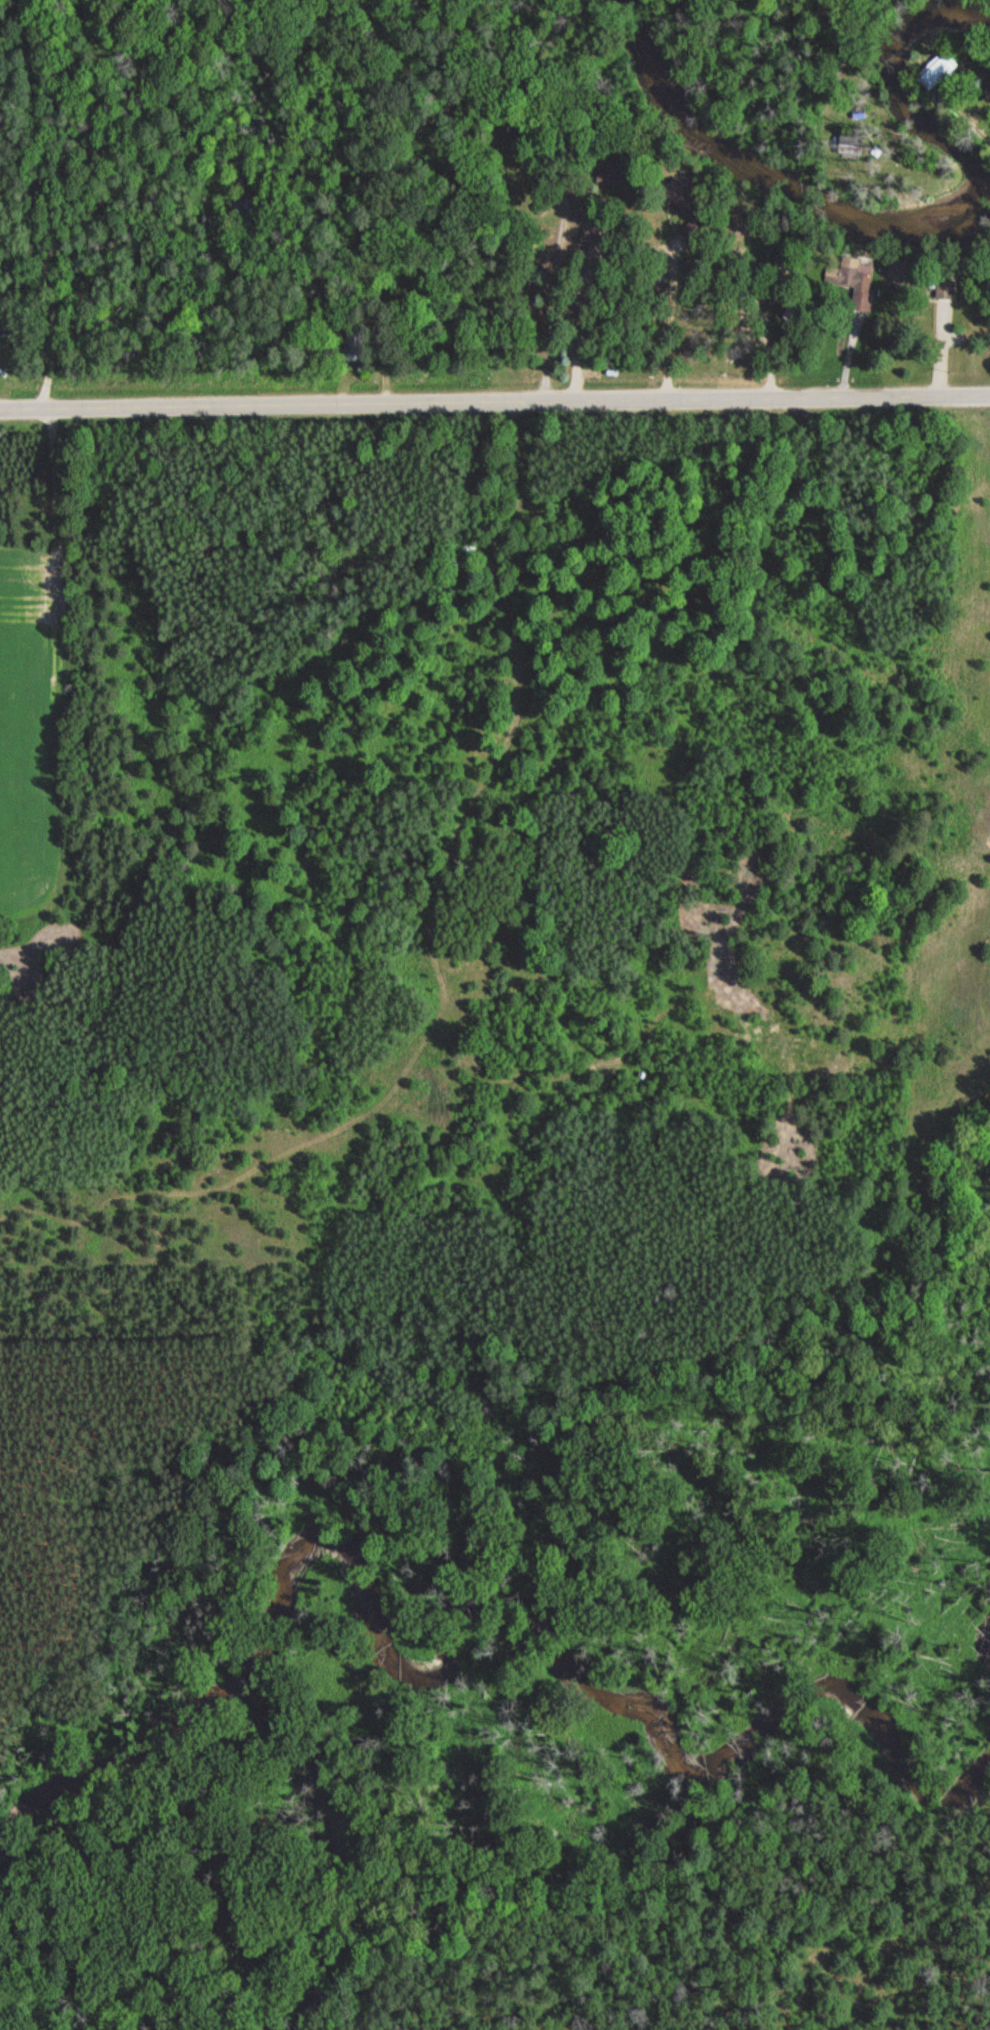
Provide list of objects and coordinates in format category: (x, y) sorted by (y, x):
road: (817, 8)
building: (936, 70)
road: (973, 127)
building: (613, 173)
building: (681, 194)
road: (38, 203)
building: (542, 204)
building: (738, 223)
river: (881, 224)
building: (690, 231)
building: (660, 268)
building: (905, 272)
building: (851, 280)
building: (945, 289)
building: (354, 352)
road: (494, 402)
river: (449, 1632)

